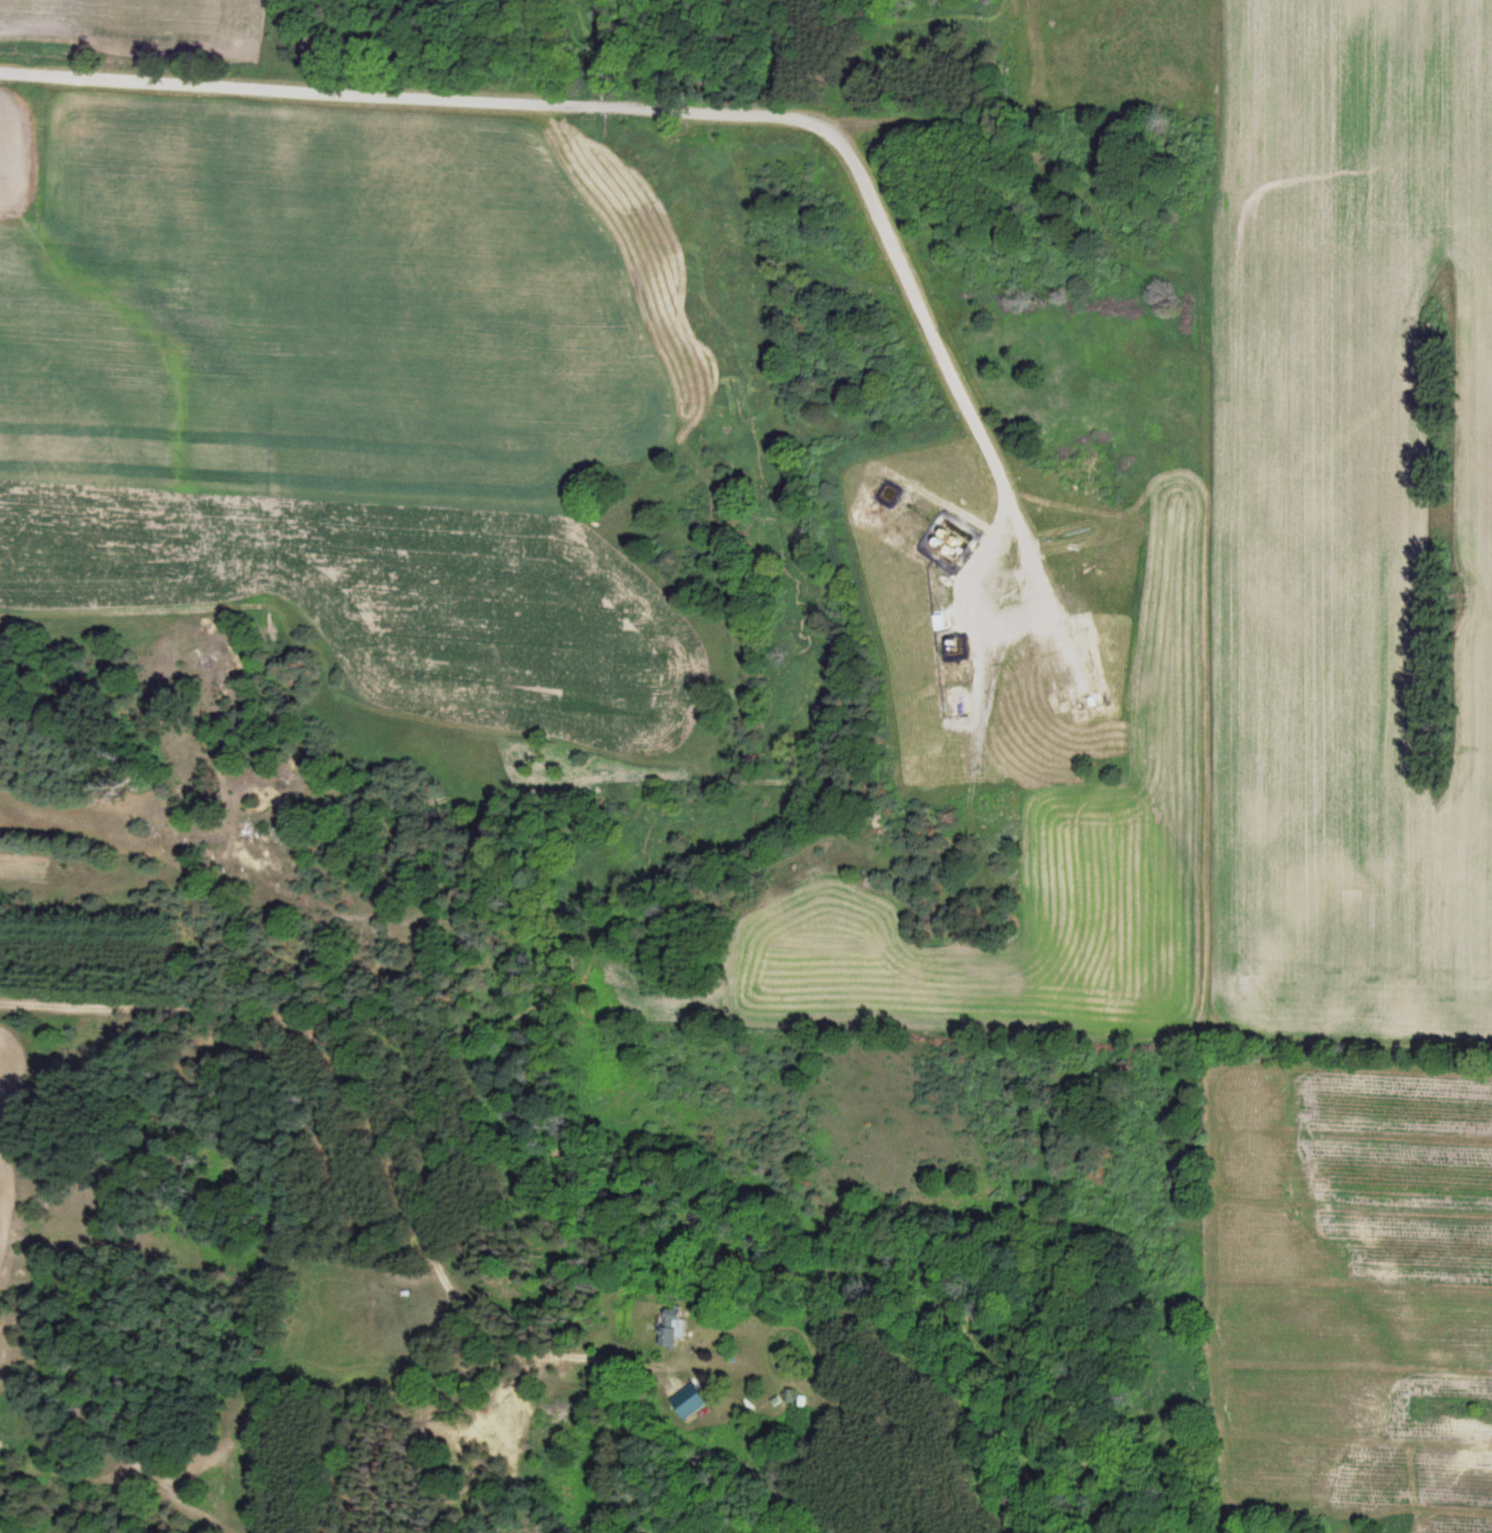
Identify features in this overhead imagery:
road: (668, 111)
road: (398, 1169)

